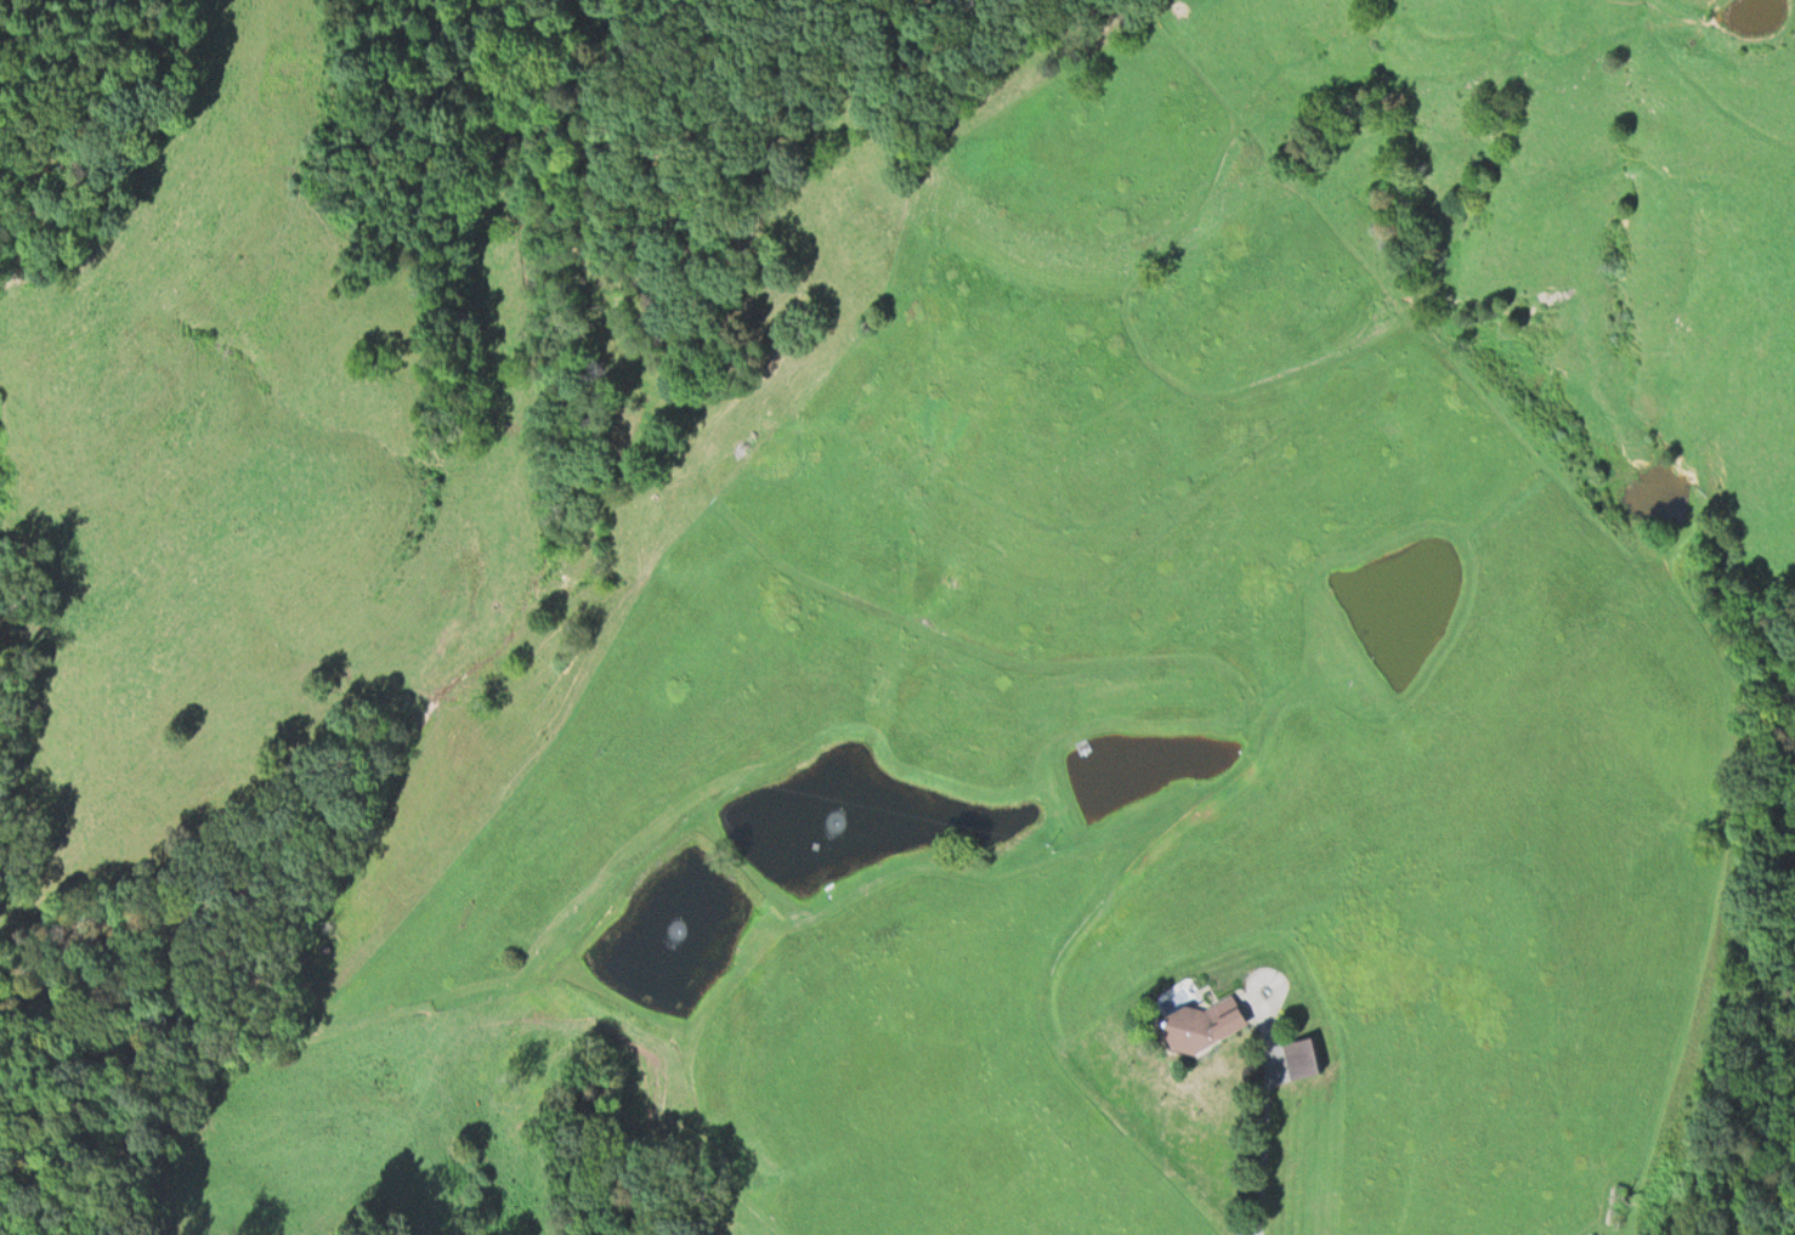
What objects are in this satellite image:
building: (1202, 1024)
building: (1302, 1054)
road: (1267, 1110)

